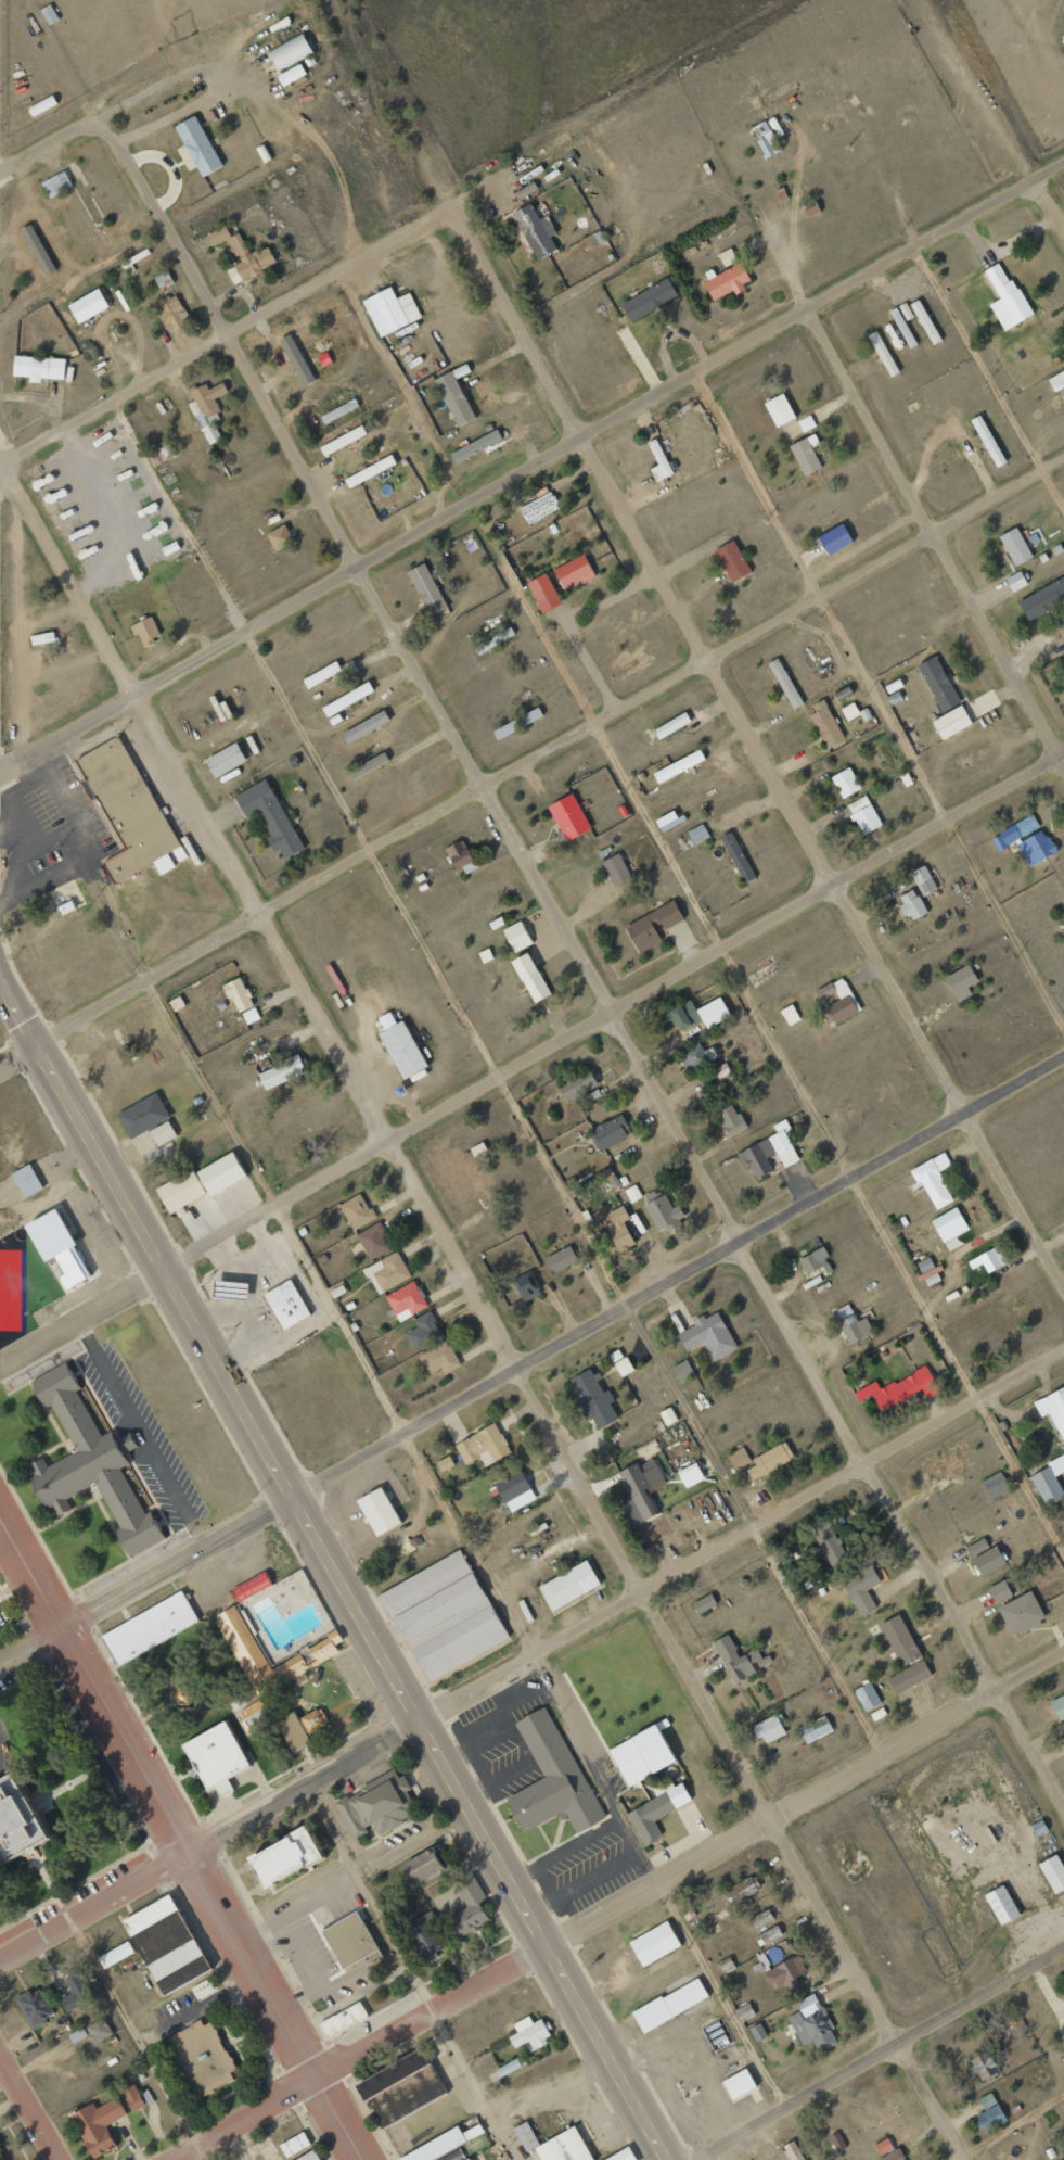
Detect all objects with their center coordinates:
building: (290, 52)
building: (291, 75)
building: (765, 139)
road: (50, 142)
building: (197, 145)
building: (56, 183)
road: (1049, 205)
building: (536, 230)
building: (218, 236)
building: (727, 256)
building: (247, 262)
building: (163, 279)
building: (727, 282)
building: (1005, 297)
building: (649, 300)
building: (88, 305)
building: (390, 310)
building: (906, 310)
building: (170, 312)
building: (925, 321)
road: (230, 334)
building: (883, 354)
building: (323, 359)
building: (38, 368)
building: (460, 371)
road: (990, 374)
building: (1056, 381)
building: (454, 398)
building: (333, 402)
building: (207, 408)
building: (779, 410)
building: (339, 411)
building: (343, 440)
building: (987, 441)
building: (475, 446)
building: (806, 454)
building: (159, 455)
building: (658, 461)
road: (530, 466)
building: (370, 471)
building: (539, 508)
road: (933, 536)
building: (279, 537)
building: (834, 538)
building: (1015, 545)
building: (732, 560)
building: (574, 572)
building: (1015, 581)
building: (426, 588)
building: (543, 592)
building: (1042, 598)
building: (1063, 623)
building: (144, 630)
building: (42, 637)
building: (496, 637)
building: (321, 674)
building: (785, 683)
building: (938, 683)
road: (880, 697)
building: (347, 698)
building: (849, 711)
building: (527, 717)
building: (951, 722)
building: (825, 723)
building: (671, 725)
building: (366, 726)
building: (504, 729)
road: (756, 751)
building: (225, 760)
road: (530, 761)
building: (368, 764)
building: (678, 765)
building: (846, 782)
building: (128, 798)
building: (863, 814)
building: (269, 816)
building: (569, 816)
building: (1014, 831)
building: (697, 834)
building: (1036, 847)
building: (458, 854)
building: (736, 856)
building: (616, 871)
building: (923, 879)
building: (67, 895)
building: (911, 903)
road: (701, 911)
building: (652, 926)
building: (516, 936)
building: (485, 955)
road: (584, 962)
building: (530, 977)
building: (961, 982)
building: (239, 994)
building: (836, 1001)
building: (177, 1003)
building: (695, 1014)
building: (790, 1014)
building: (251, 1015)
building: (386, 1019)
building: (402, 1050)
building: (696, 1056)
road: (531, 1057)
building: (720, 1070)
building: (281, 1072)
building: (576, 1084)
building: (144, 1103)
building: (730, 1120)
building: (608, 1132)
building: (162, 1133)
building: (770, 1152)
building: (29, 1167)
building: (201, 1171)
building: (933, 1180)
building: (26, 1181)
road: (566, 1191)
building: (632, 1193)
building: (357, 1211)
building: (662, 1212)
building: (949, 1224)
building: (619, 1229)
building: (60, 1230)
building: (373, 1241)
building: (560, 1259)
building: (989, 1259)
building: (813, 1260)
building: (387, 1271)
building: (232, 1274)
gas station: (232, 1274)
building: (526, 1286)
building: (230, 1289)
building: (287, 1292)
building: (406, 1301)
road: (482, 1305)
road: (343, 1317)
building: (853, 1325)
building: (424, 1331)
building: (708, 1336)
road: (564, 1339)
building: (439, 1358)
building: (623, 1367)
building: (682, 1371)
building: (899, 1389)
building: (593, 1398)
building: (1053, 1409)
building: (668, 1415)
building: (483, 1445)
building: (90, 1450)
building: (739, 1458)
building: (769, 1460)
building: (445, 1464)
building: (1056, 1464)
building: (690, 1475)
building: (642, 1485)
building: (996, 1485)
building: (1047, 1486)
building: (514, 1490)
building: (381, 1499)
building: (829, 1543)
building: (977, 1547)
building: (988, 1561)
road: (332, 1564)
building: (423, 1584)
building: (568, 1586)
building: (251, 1587)
building: (861, 1588)
building: (1000, 1591)
road: (628, 1599)
building: (704, 1603)
building: (1021, 1613)
building: (150, 1614)
building: (450, 1627)
building: (240, 1641)
building: (899, 1641)
building: (324, 1643)
road: (31, 1644)
building: (739, 1659)
building: (289, 1669)
building: (908, 1677)
building: (867, 1697)
building: (1059, 1706)
building: (254, 1715)
building: (302, 1717)
building: (770, 1728)
building: (816, 1728)
building: (216, 1739)
building: (642, 1753)
building: (551, 1765)
building: (376, 1794)
building: (21, 1796)
building: (657, 1809)
road: (180, 1830)
building: (283, 1856)
building: (423, 1867)
road: (690, 1868)
building: (1053, 1872)
building: (741, 1889)
building: (1001, 1904)
road: (95, 1906)
building: (469, 1906)
building: (687, 1910)
building: (759, 1919)
building: (350, 1926)
building: (768, 1935)
building: (424, 1936)
building: (654, 1943)
building: (166, 1944)
building: (115, 1954)
road: (422, 1969)
building: (785, 1972)
building: (203, 1987)
building: (75, 1991)
road: (725, 1995)
building: (669, 2004)
building: (34, 2008)
building: (343, 2019)
building: (812, 2023)
building: (99, 2030)
building: (757, 2032)
building: (530, 2033)
road: (140, 2040)
building: (1063, 2053)
road: (879, 2054)
building: (201, 2057)
building: (984, 2063)
building: (512, 2066)
building: (1039, 2078)
building: (739, 2083)
building: (400, 2088)
building: (133, 2097)
road: (29, 2108)
building: (989, 2112)
road: (241, 2118)
road: (1001, 2124)
building: (98, 2125)
building: (526, 2135)
building: (836, 2140)
building: (436, 2146)
building: (883, 2146)
building: (564, 2147)
building: (309, 2156)
building: (623, 2156)
building: (892, 2156)
building: (0, 2158)
building: (469, 2159)

